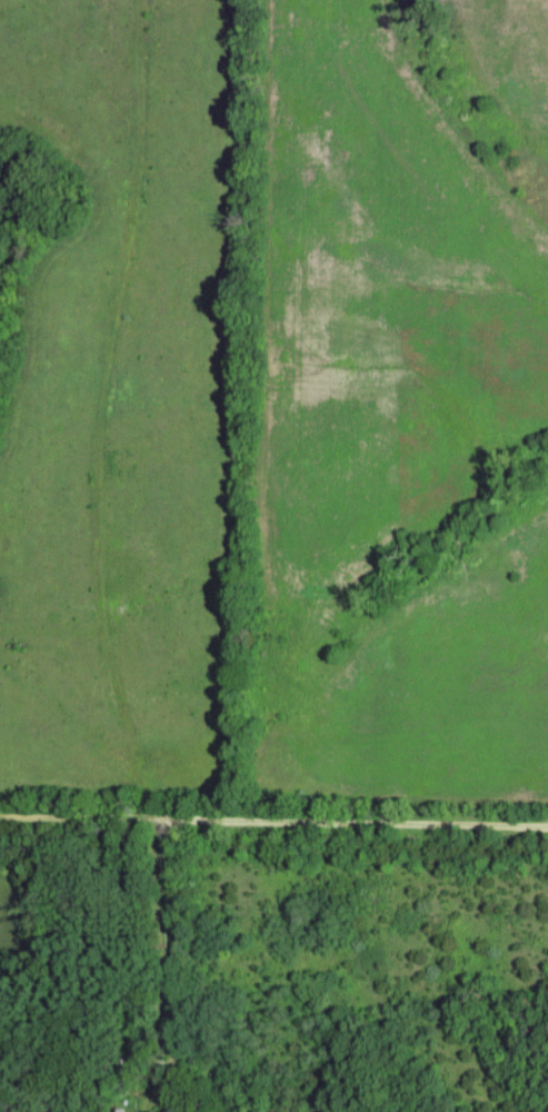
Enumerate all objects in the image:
road: (273, 821)
road: (157, 943)

